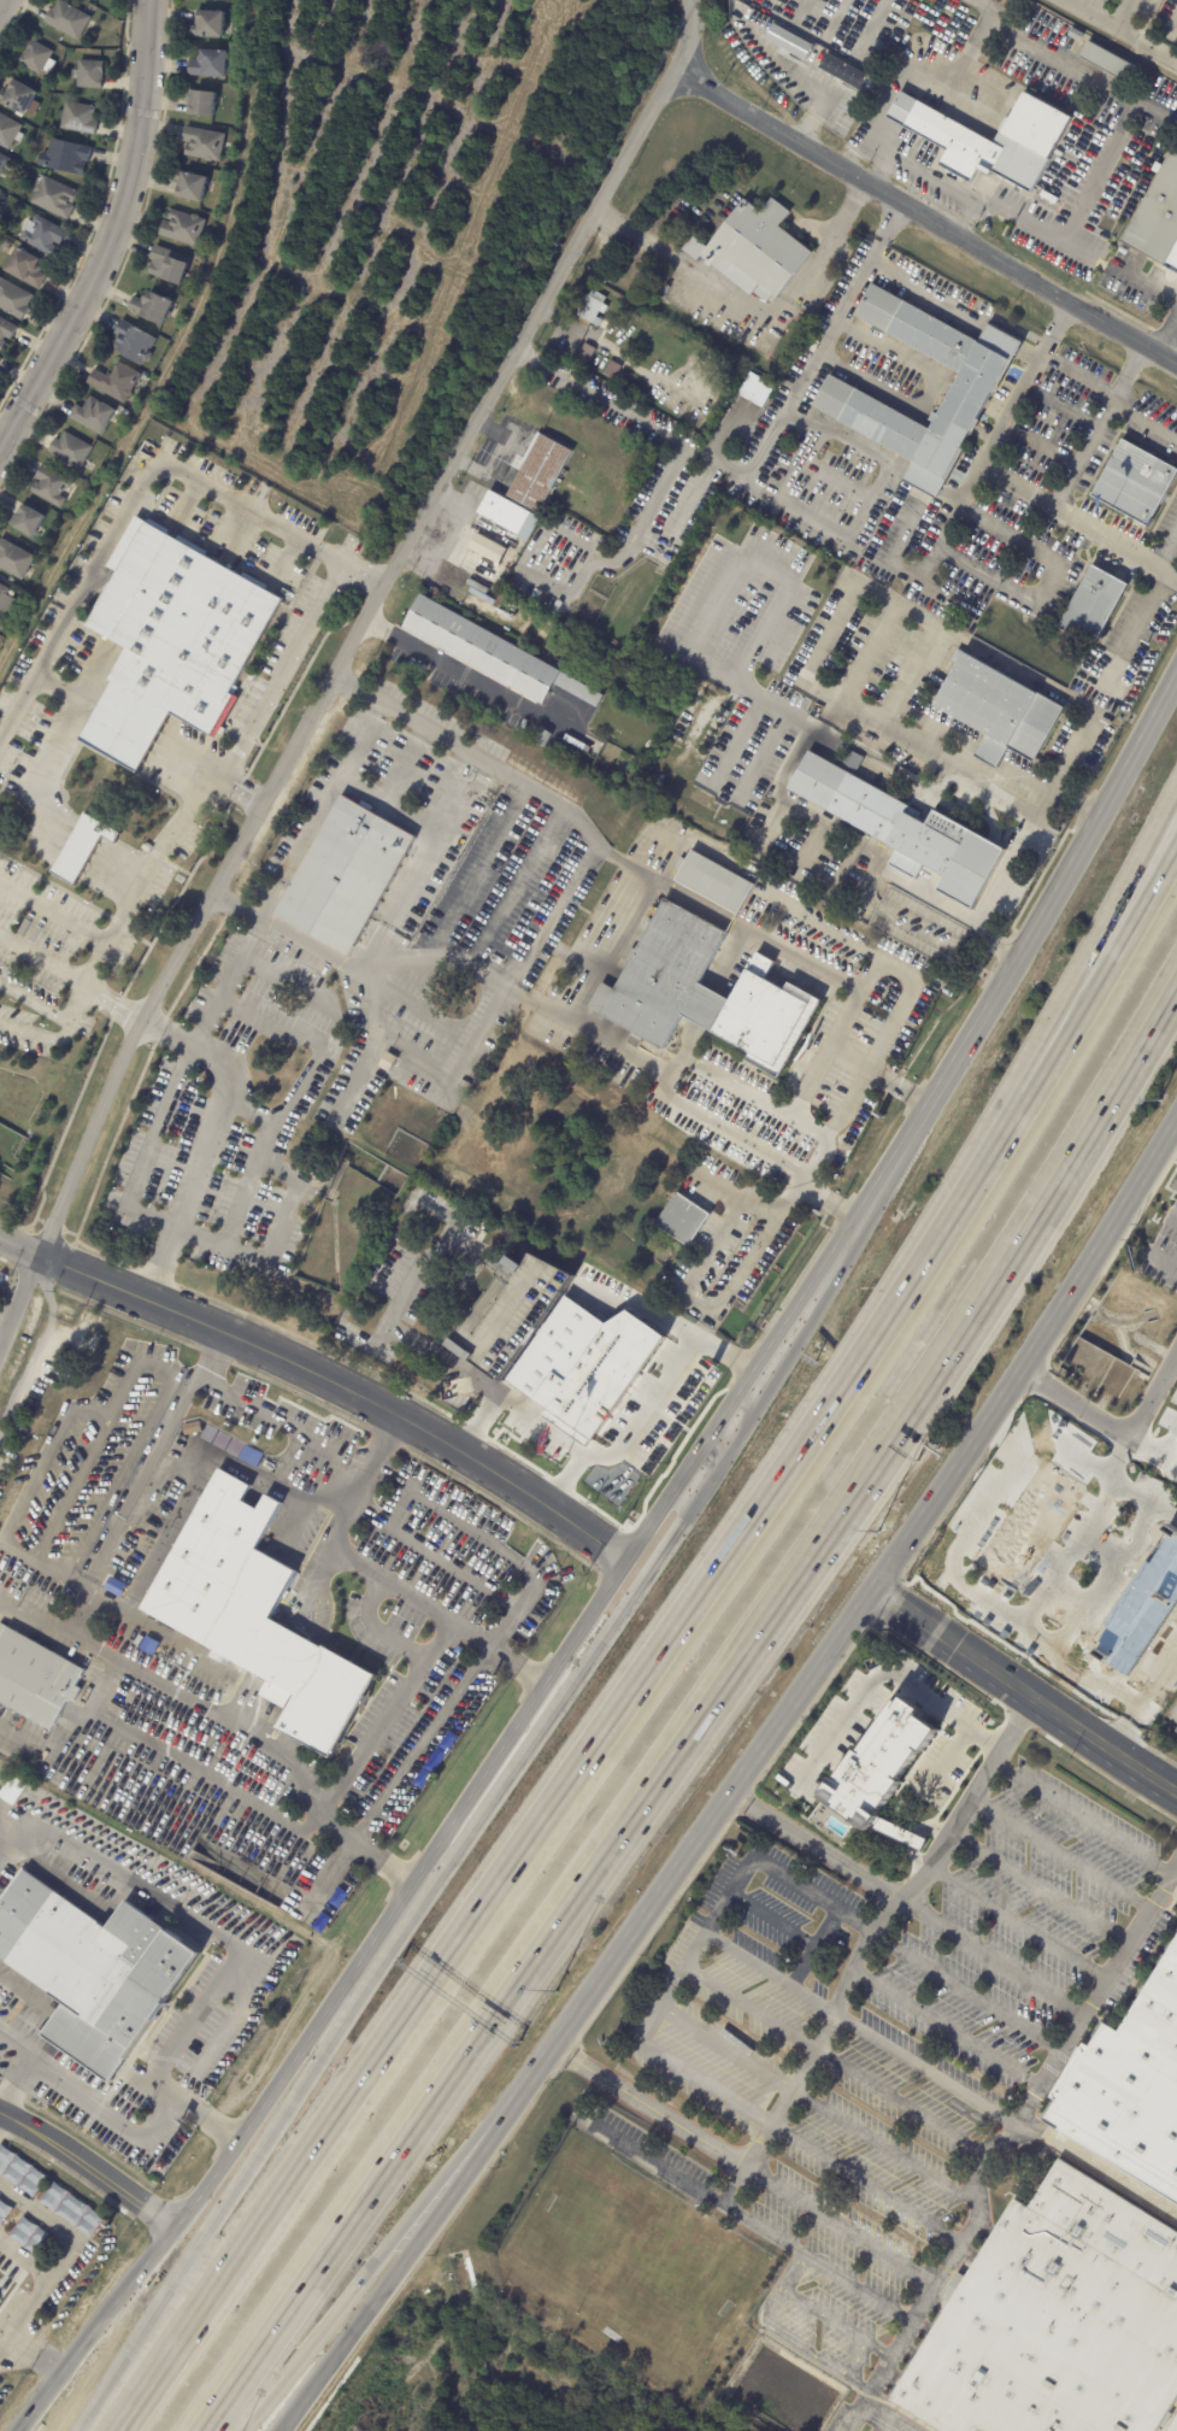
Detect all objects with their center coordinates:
road: (758, 5)
road: (989, 6)
road: (4, 7)
road: (799, 10)
road: (1124, 13)
road: (832, 18)
building: (70, 19)
building: (212, 23)
road: (872, 25)
road: (1123, 29)
building: (1075, 35)
building: (39, 58)
building: (213, 63)
building: (1107, 63)
road: (908, 64)
road: (789, 71)
building: (92, 75)
road: (1097, 78)
building: (24, 100)
building: (204, 102)
road: (816, 111)
building: (82, 119)
building: (10, 131)
building: (994, 141)
building: (206, 142)
building: (67, 158)
building: (5, 165)
building: (194, 186)
building: (55, 196)
building: (1158, 218)
road: (966, 219)
road: (924, 222)
building: (186, 228)
road: (107, 233)
road: (1046, 234)
building: (45, 235)
building: (12, 241)
building: (10, 248)
building: (754, 251)
building: (170, 265)
building: (27, 268)
road: (1147, 283)
building: (664, 290)
road: (925, 298)
building: (14, 299)
building: (157, 307)
building: (590, 307)
road: (754, 311)
building: (6, 333)
road: (1166, 337)
road: (1002, 340)
building: (136, 341)
road: (1029, 354)
building: (0, 356)
building: (0, 360)
building: (904, 380)
building: (749, 381)
building: (118, 382)
building: (696, 384)
building: (971, 389)
road: (932, 398)
building: (128, 412)
road: (1144, 413)
building: (98, 415)
road: (1094, 427)
road: (501, 434)
road: (846, 441)
building: (75, 451)
road: (759, 452)
road: (483, 470)
building: (539, 472)
road: (996, 475)
road: (924, 483)
building: (1135, 483)
building: (53, 486)
road: (142, 486)
road: (789, 500)
building: (506, 515)
building: (31, 521)
road: (947, 521)
road: (636, 538)
road: (1166, 545)
building: (489, 547)
building: (16, 558)
road: (1055, 574)
road: (565, 589)
building: (7, 598)
building: (1091, 606)
road: (370, 626)
road: (1137, 626)
building: (176, 641)
building: (489, 651)
road: (282, 668)
road: (472, 675)
road: (1169, 686)
road: (67, 689)
road: (95, 691)
road: (92, 695)
road: (139, 700)
road: (87, 705)
road: (84, 710)
road: (133, 710)
building: (996, 710)
road: (82, 714)
road: (129, 718)
road: (122, 729)
road: (169, 733)
road: (117, 738)
road: (165, 738)
building: (542, 738)
road: (925, 741)
road: (55, 745)
road: (112, 746)
road: (160, 746)
road: (158, 751)
road: (155, 754)
road: (187, 758)
road: (322, 808)
road: (425, 827)
building: (905, 832)
road: (61, 833)
road: (60, 836)
road: (84, 838)
road: (57, 844)
road: (81, 846)
building: (84, 847)
road: (53, 848)
road: (77, 851)
road: (159, 852)
road: (100, 857)
road: (73, 859)
road: (99, 861)
road: (69, 868)
road: (95, 868)
road: (635, 869)
road: (93, 871)
road: (113, 874)
building: (346, 876)
building: (713, 881)
road: (1000, 882)
road: (402, 896)
road: (1123, 904)
road: (55, 911)
road: (1124, 930)
building: (785, 938)
building: (590, 951)
building: (496, 959)
road: (884, 959)
road: (45, 962)
building: (547, 976)
building: (702, 992)
road: (535, 1000)
road: (76, 1009)
building: (624, 1082)
road: (901, 1086)
road: (746, 1090)
road: (837, 1131)
road: (205, 1140)
building: (1176, 1190)
building: (428, 1204)
road: (831, 1204)
building: (679, 1219)
road: (1176, 1222)
road: (1164, 1261)
building: (507, 1263)
road: (694, 1308)
road: (22, 1309)
road: (701, 1326)
building: (455, 1347)
road: (434, 1350)
road: (36, 1360)
building: (570, 1372)
road: (323, 1374)
road: (189, 1380)
building: (690, 1388)
road: (647, 1408)
road: (270, 1411)
building: (512, 1413)
road: (540, 1422)
road: (1113, 1425)
building: (664, 1426)
building: (192, 1428)
building: (207, 1433)
road: (151, 1435)
building: (220, 1440)
building: (235, 1448)
building: (248, 1455)
road: (40, 1460)
building: (269, 1464)
road: (189, 1482)
road: (67, 1491)
road: (475, 1525)
road: (326, 1558)
road: (455, 1563)
road: (60, 1575)
road: (382, 1576)
road: (613, 1579)
building: (112, 1589)
road: (870, 1591)
road: (304, 1602)
road: (322, 1607)
building: (257, 1616)
road: (373, 1627)
road: (55, 1628)
building: (148, 1643)
road: (275, 1652)
road: (289, 1670)
road: (881, 1675)
building: (37, 1680)
building: (228, 1690)
road: (1024, 1690)
road: (247, 1701)
road: (386, 1713)
road: (701, 1717)
road: (263, 1720)
road: (66, 1733)
road: (604, 1734)
building: (1176, 1742)
road: (275, 1751)
road: (947, 1751)
building: (884, 1762)
road: (1081, 1818)
road: (4, 1843)
road: (814, 1844)
road: (460, 1848)
road: (1061, 1852)
road: (1176, 1859)
road: (1041, 1887)
road: (190, 1919)
road: (771, 1919)
road: (1018, 1921)
road: (877, 1924)
road: (813, 1946)
road: (692, 1953)
road: (990, 1959)
road: (766, 1971)
building: (98, 1972)
road: (967, 1990)
road: (1097, 1990)
road: (752, 2000)
road: (947, 2027)
road: (726, 2042)
road: (17, 2048)
road: (925, 2067)
building: (1128, 2089)
road: (898, 2100)
road: (119, 2120)
road: (883, 2147)
road: (88, 2168)
building: (19, 2172)
road: (1097, 2172)
road: (865, 2184)
building: (71, 2209)
building: (4, 2210)
road: (824, 2220)
building: (28, 2236)
road: (390, 2241)
road: (781, 2241)
road: (412, 2245)
road: (65, 2251)
road: (24, 2259)
road: (858, 2289)
building: (1057, 2321)
road: (837, 2324)
road: (898, 2345)
road: (37, 2354)
road: (822, 2359)
road: (870, 2407)
road: (1175, 2426)

